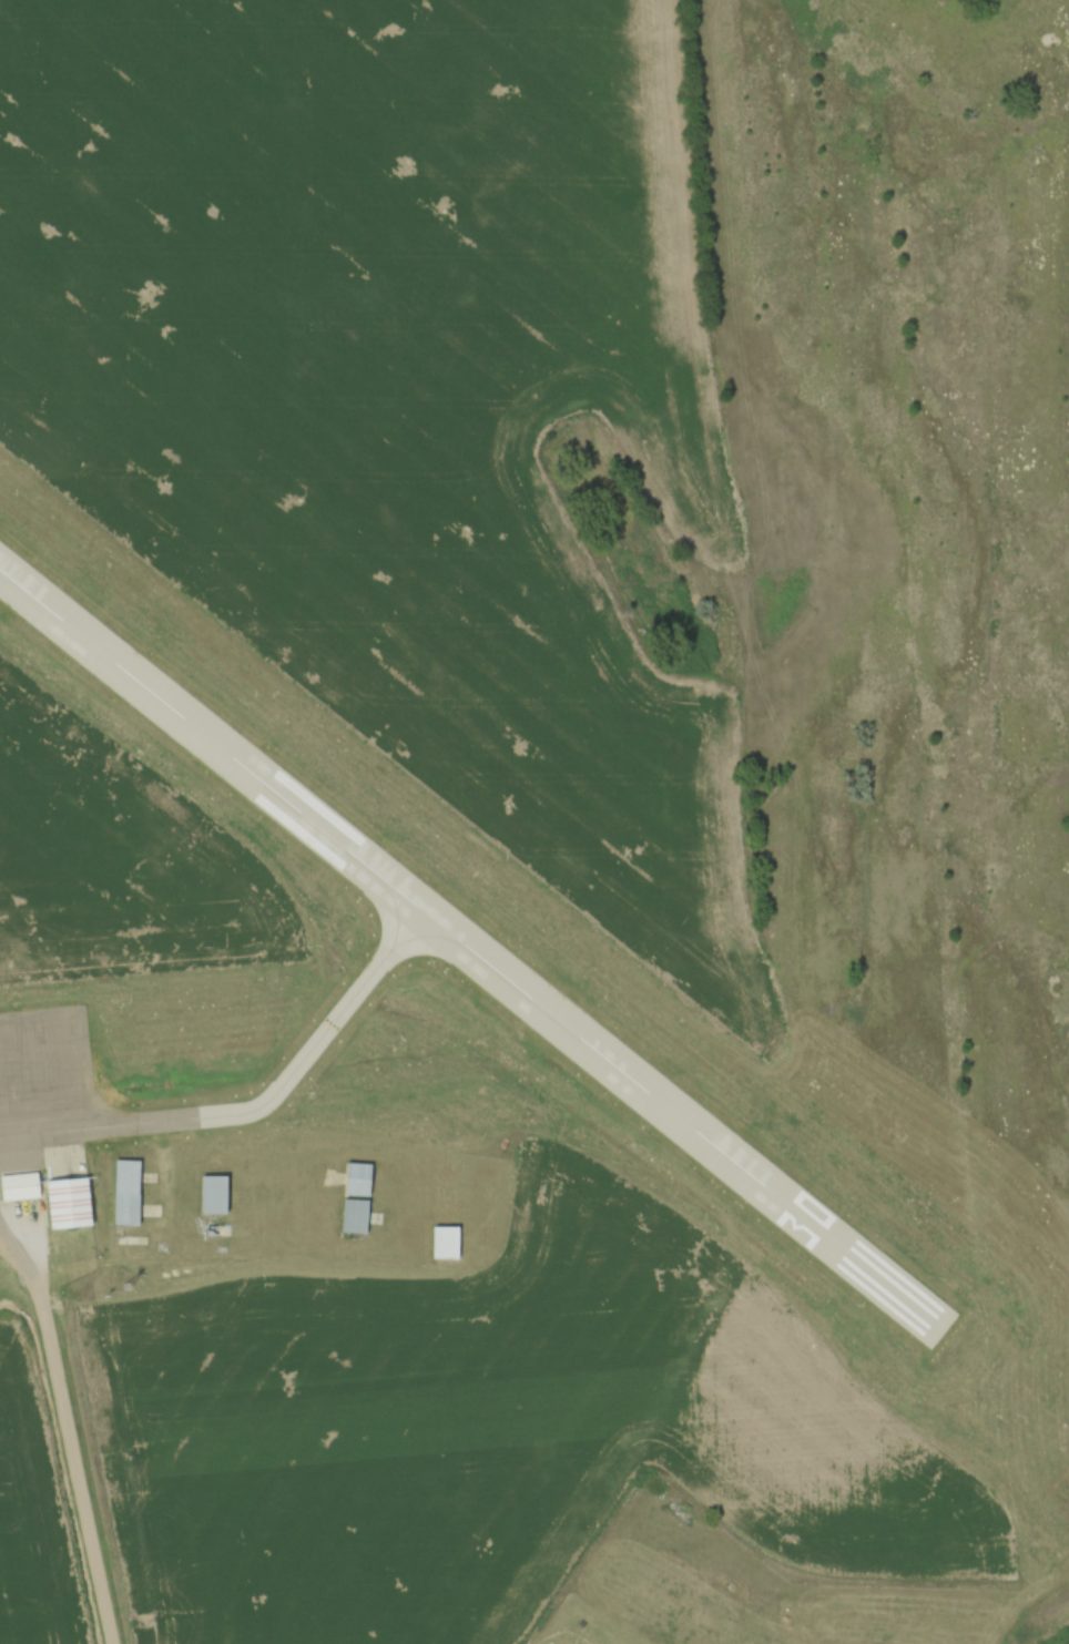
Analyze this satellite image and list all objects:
airport: (417, 875)
airport runway: (471, 953)
airport taxiway: (257, 1112)
building: (367, 1181)
building: (29, 1188)
building: (135, 1195)
building: (221, 1196)
building: (79, 1204)
building: (362, 1218)
building: (455, 1243)
road: (67, 1431)
building: (422, 1511)

